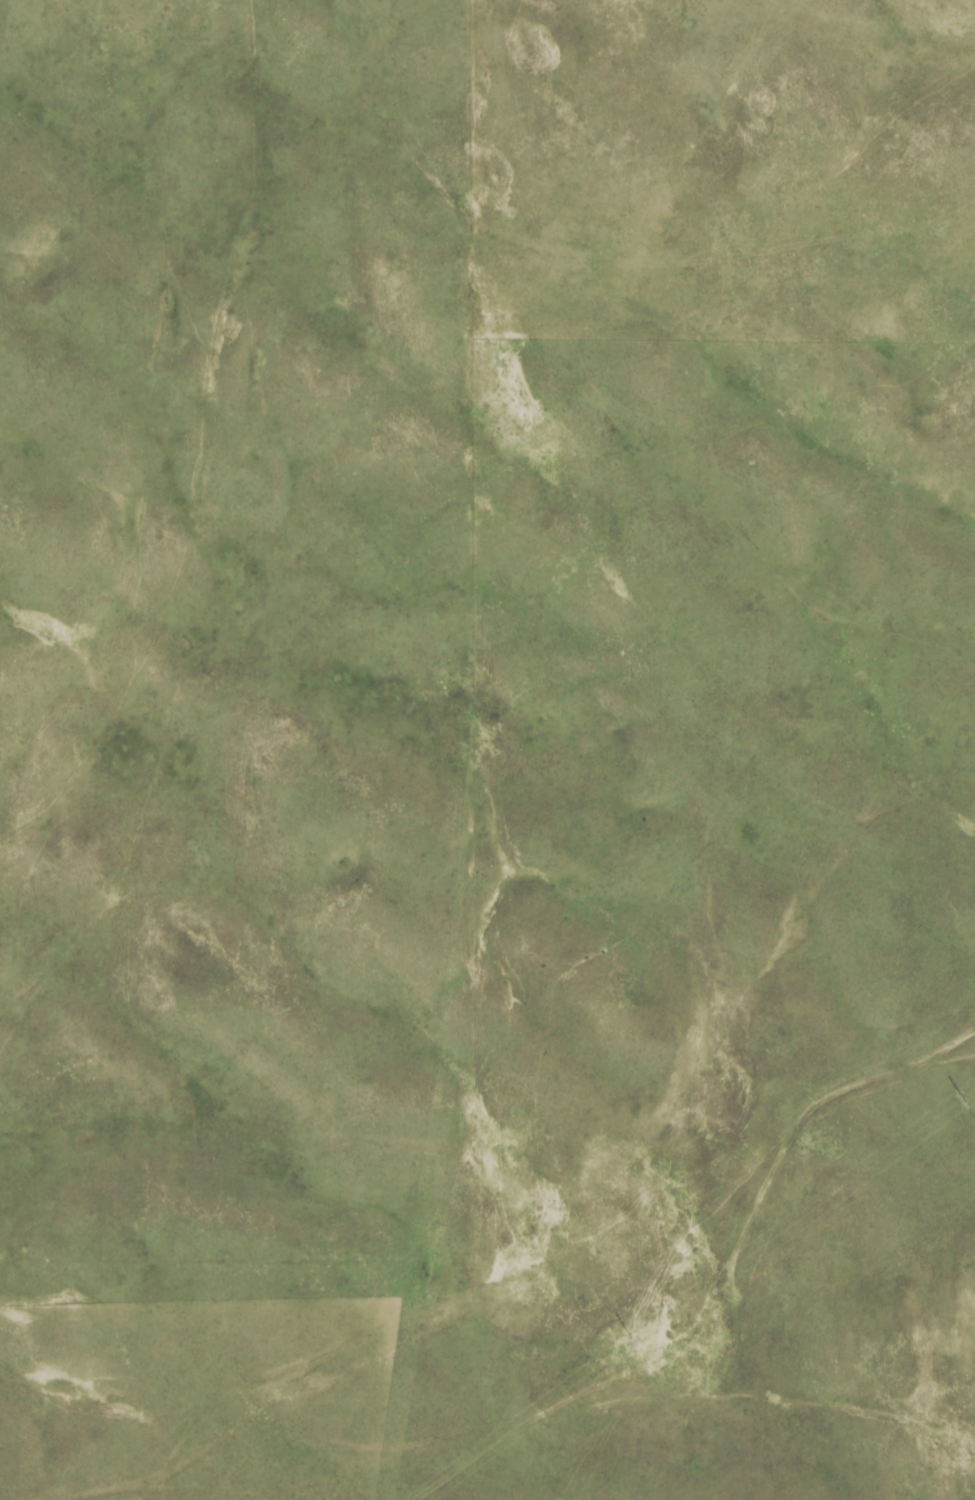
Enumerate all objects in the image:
power tower: (963, 1098)
power tower: (635, 1341)

